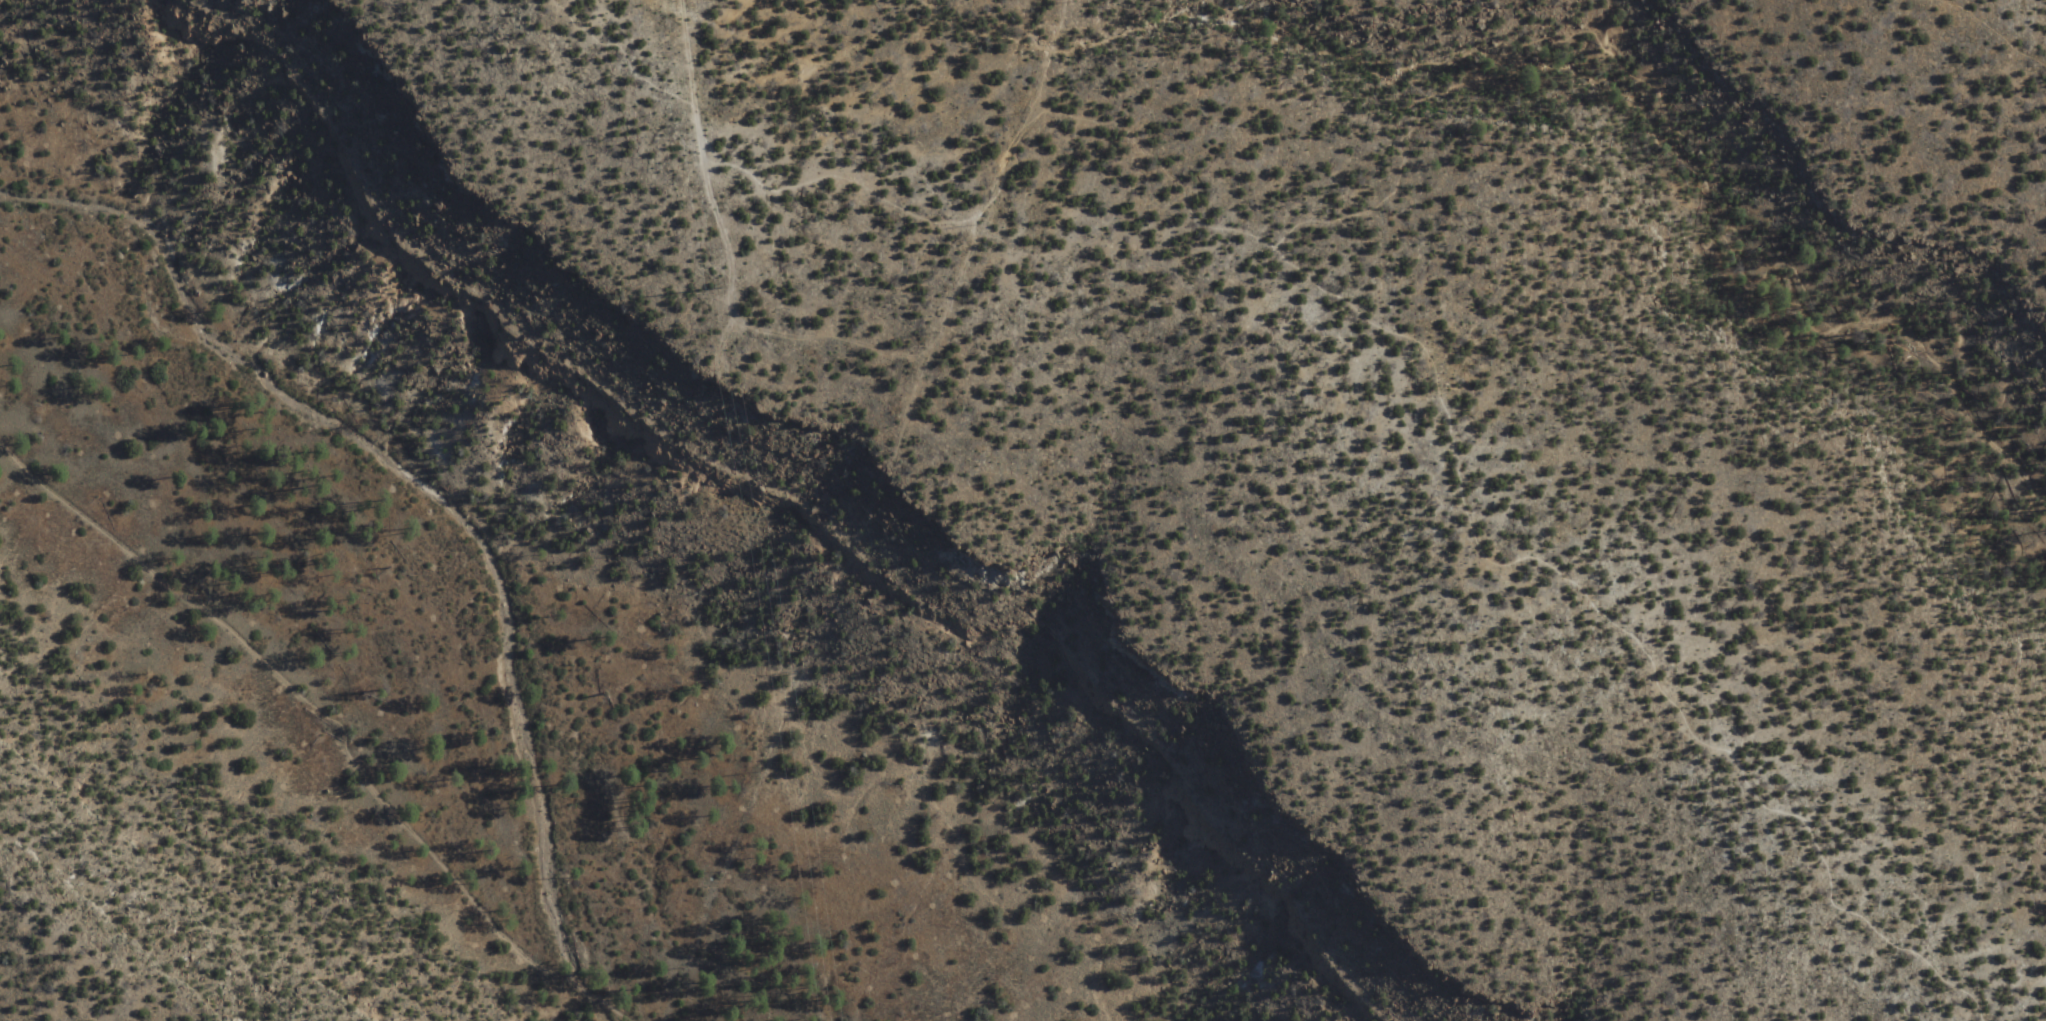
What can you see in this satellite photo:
road: (2000, 25)
road: (1055, 49)
road: (662, 87)
road: (1690, 132)
road: (876, 183)
road: (1494, 565)
road: (334, 665)

